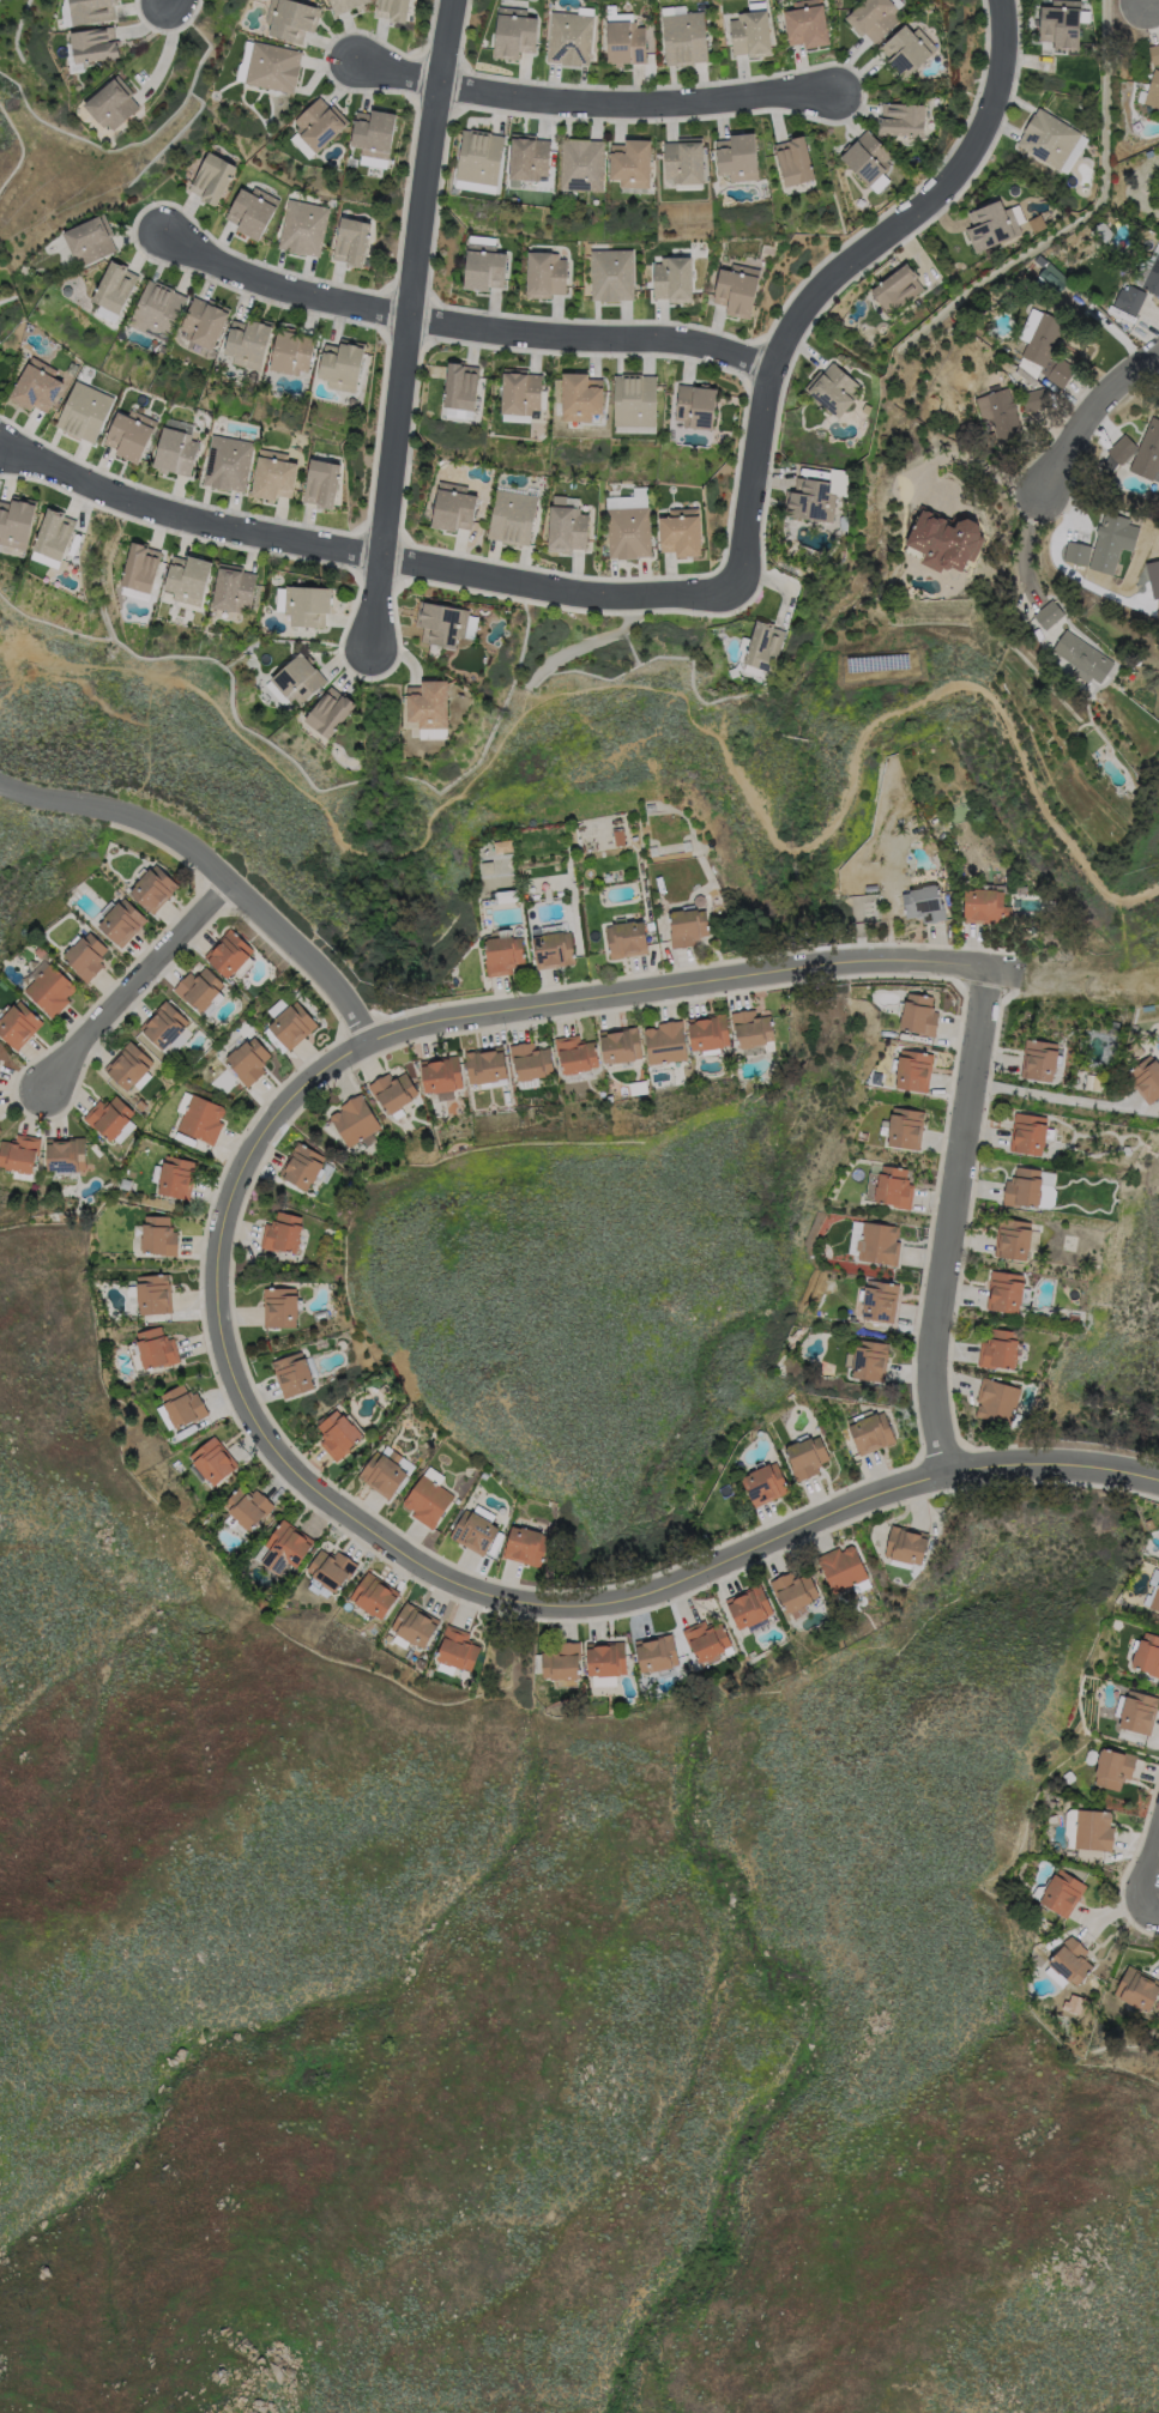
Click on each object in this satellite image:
road: (162, 0)
building: (343, 5)
building: (393, 8)
building: (85, 11)
building: (290, 17)
building: (871, 17)
building: (809, 20)
building: (1063, 23)
building: (751, 29)
building: (514, 30)
building: (684, 35)
building: (568, 36)
building: (624, 40)
building: (95, 42)
building: (907, 49)
building: (1154, 52)
building: (270, 65)
building: (1153, 89)
building: (111, 103)
road: (586, 103)
building: (904, 114)
building: (320, 122)
building: (375, 132)
building: (1052, 138)
building: (868, 153)
building: (479, 155)
building: (527, 155)
building: (738, 155)
building: (795, 157)
building: (684, 159)
building: (632, 161)
building: (581, 162)
building: (213, 176)
building: (253, 210)
building: (995, 223)
building: (303, 226)
building: (91, 238)
building: (354, 240)
building: (484, 264)
building: (545, 272)
road: (837, 272)
building: (612, 273)
building: (675, 276)
building: (1153, 276)
building: (1050, 279)
building: (898, 285)
building: (115, 286)
building: (738, 288)
building: (1130, 297)
building: (157, 310)
building: (205, 321)
road: (458, 325)
road: (404, 327)
building: (248, 343)
building: (1049, 347)
building: (292, 351)
building: (342, 364)
building: (36, 387)
building: (833, 387)
building: (459, 388)
building: (521, 389)
building: (581, 394)
building: (634, 398)
building: (1036, 398)
building: (696, 403)
road: (1091, 409)
building: (85, 412)
building: (998, 415)
building: (131, 435)
building: (1133, 449)
building: (175, 450)
building: (229, 462)
road: (986, 465)
building: (274, 474)
building: (324, 483)
building: (810, 497)
building: (454, 504)
building: (511, 515)
building: (16, 521)
building: (566, 524)
building: (682, 530)
building: (628, 531)
building: (54, 534)
building: (946, 538)
road: (1026, 542)
building: (1105, 543)
road: (360, 550)
building: (139, 566)
building: (186, 576)
building: (233, 585)
building: (307, 601)
building: (935, 606)
building: (1050, 613)
building: (445, 622)
building: (766, 643)
road: (578, 647)
building: (879, 652)
building: (1085, 655)
road: (13, 677)
building: (295, 679)
road: (652, 688)
building: (427, 708)
building: (328, 710)
road: (150, 751)
building: (502, 845)
road: (211, 867)
building: (152, 888)
building: (507, 896)
building: (925, 901)
building: (986, 905)
building: (865, 907)
building: (120, 923)
building: (687, 926)
building: (627, 938)
building: (554, 947)
building: (227, 952)
building: (502, 952)
building: (85, 956)
road: (138, 986)
building: (198, 988)
building: (48, 990)
building: (918, 1014)
building: (17, 1024)
building: (162, 1024)
building: (288, 1024)
building: (750, 1027)
building: (707, 1032)
building: (664, 1041)
building: (176, 1042)
building: (620, 1042)
building: (0, 1051)
building: (574, 1052)
building: (530, 1059)
building: (1038, 1059)
building: (247, 1060)
building: (483, 1063)
building: (127, 1065)
building: (912, 1070)
building: (440, 1075)
building: (1146, 1076)
building: (1092, 1081)
building: (391, 1091)
road: (1060, 1096)
building: (108, 1117)
building: (200, 1119)
building: (354, 1120)
building: (905, 1126)
building: (1028, 1132)
building: (62, 1154)
building: (19, 1156)
building: (300, 1163)
building: (176, 1179)
building: (889, 1187)
building: (1028, 1187)
road: (959, 1221)
building: (279, 1232)
building: (158, 1235)
building: (1013, 1238)
building: (873, 1241)
building: (1006, 1290)
building: (153, 1295)
building: (879, 1300)
building: (278, 1306)
building: (998, 1349)
building: (151, 1350)
building: (867, 1359)
building: (291, 1374)
road: (237, 1384)
building: (996, 1399)
building: (183, 1407)
building: (870, 1433)
building: (336, 1434)
building: (805, 1457)
building: (212, 1463)
building: (380, 1474)
building: (763, 1483)
building: (427, 1496)
building: (247, 1507)
building: (475, 1529)
building: (905, 1544)
building: (525, 1546)
building: (282, 1549)
building: (839, 1568)
building: (330, 1570)
building: (795, 1590)
building: (372, 1595)
building: (1155, 1599)
building: (748, 1607)
building: (412, 1625)
building: (704, 1639)
building: (455, 1647)
building: (654, 1653)
building: (1147, 1655)
building: (604, 1658)
building: (560, 1661)
building: (1136, 1711)
building: (1113, 1768)
building: (1088, 1830)
road: (1152, 1877)
building: (1061, 1894)
road: (1152, 1909)
building: (1069, 1961)
building: (1136, 1988)

